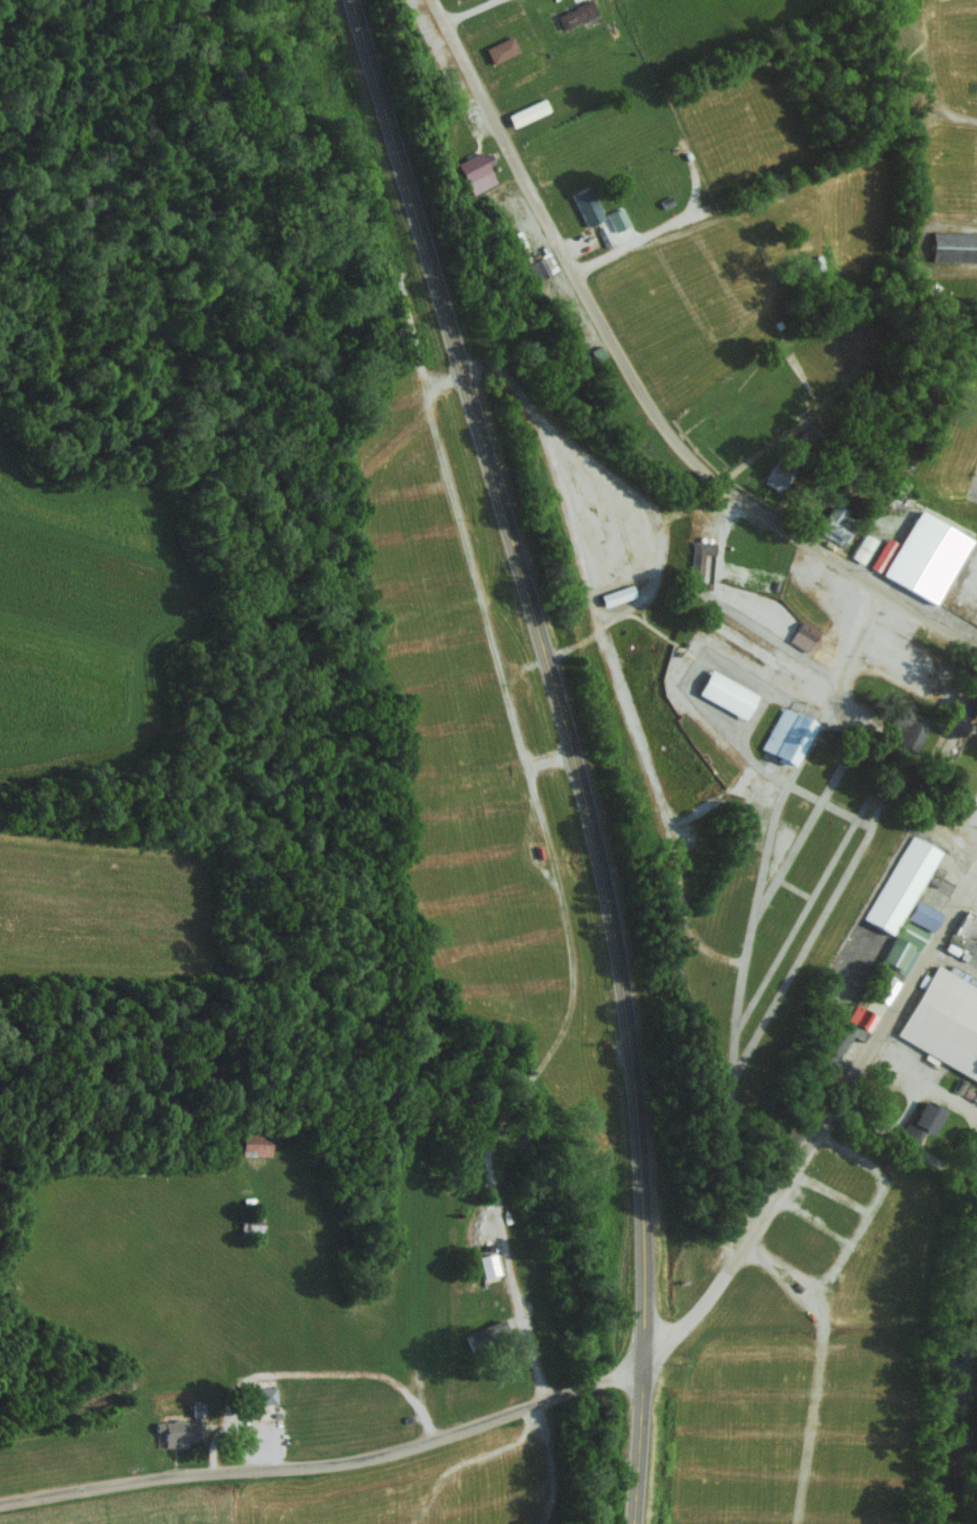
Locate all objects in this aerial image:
road: (471, 11)
building: (577, 14)
building: (503, 49)
building: (529, 112)
building: (478, 171)
road: (331, 184)
building: (587, 206)
building: (620, 220)
building: (954, 246)
building: (541, 266)
road: (637, 386)
building: (779, 475)
road: (644, 505)
building: (836, 525)
building: (863, 547)
building: (884, 554)
building: (926, 555)
building: (700, 556)
building: (618, 594)
road: (629, 600)
road: (751, 623)
building: (804, 635)
road: (571, 644)
road: (608, 657)
building: (728, 693)
building: (909, 728)
building: (787, 735)
building: (947, 743)
road: (571, 750)
road: (867, 750)
road: (829, 804)
road: (805, 826)
road: (972, 873)
building: (899, 884)
road: (793, 887)
road: (559, 889)
road: (809, 899)
building: (920, 914)
building: (963, 922)
road: (814, 929)
building: (910, 933)
building: (951, 948)
building: (898, 954)
building: (964, 954)
building: (955, 970)
road: (741, 976)
building: (965, 976)
building: (972, 980)
building: (976, 985)
building: (887, 989)
building: (862, 1016)
building: (945, 1020)
building: (845, 1046)
building: (828, 1081)
building: (959, 1084)
building: (968, 1092)
building: (975, 1095)
building: (924, 1119)
building: (257, 1143)
road: (830, 1191)
road: (870, 1200)
road: (815, 1220)
building: (489, 1264)
road: (806, 1280)
road: (783, 1284)
road: (607, 1380)
building: (265, 1394)
building: (198, 1410)
river: (956, 1425)
building: (177, 1432)

